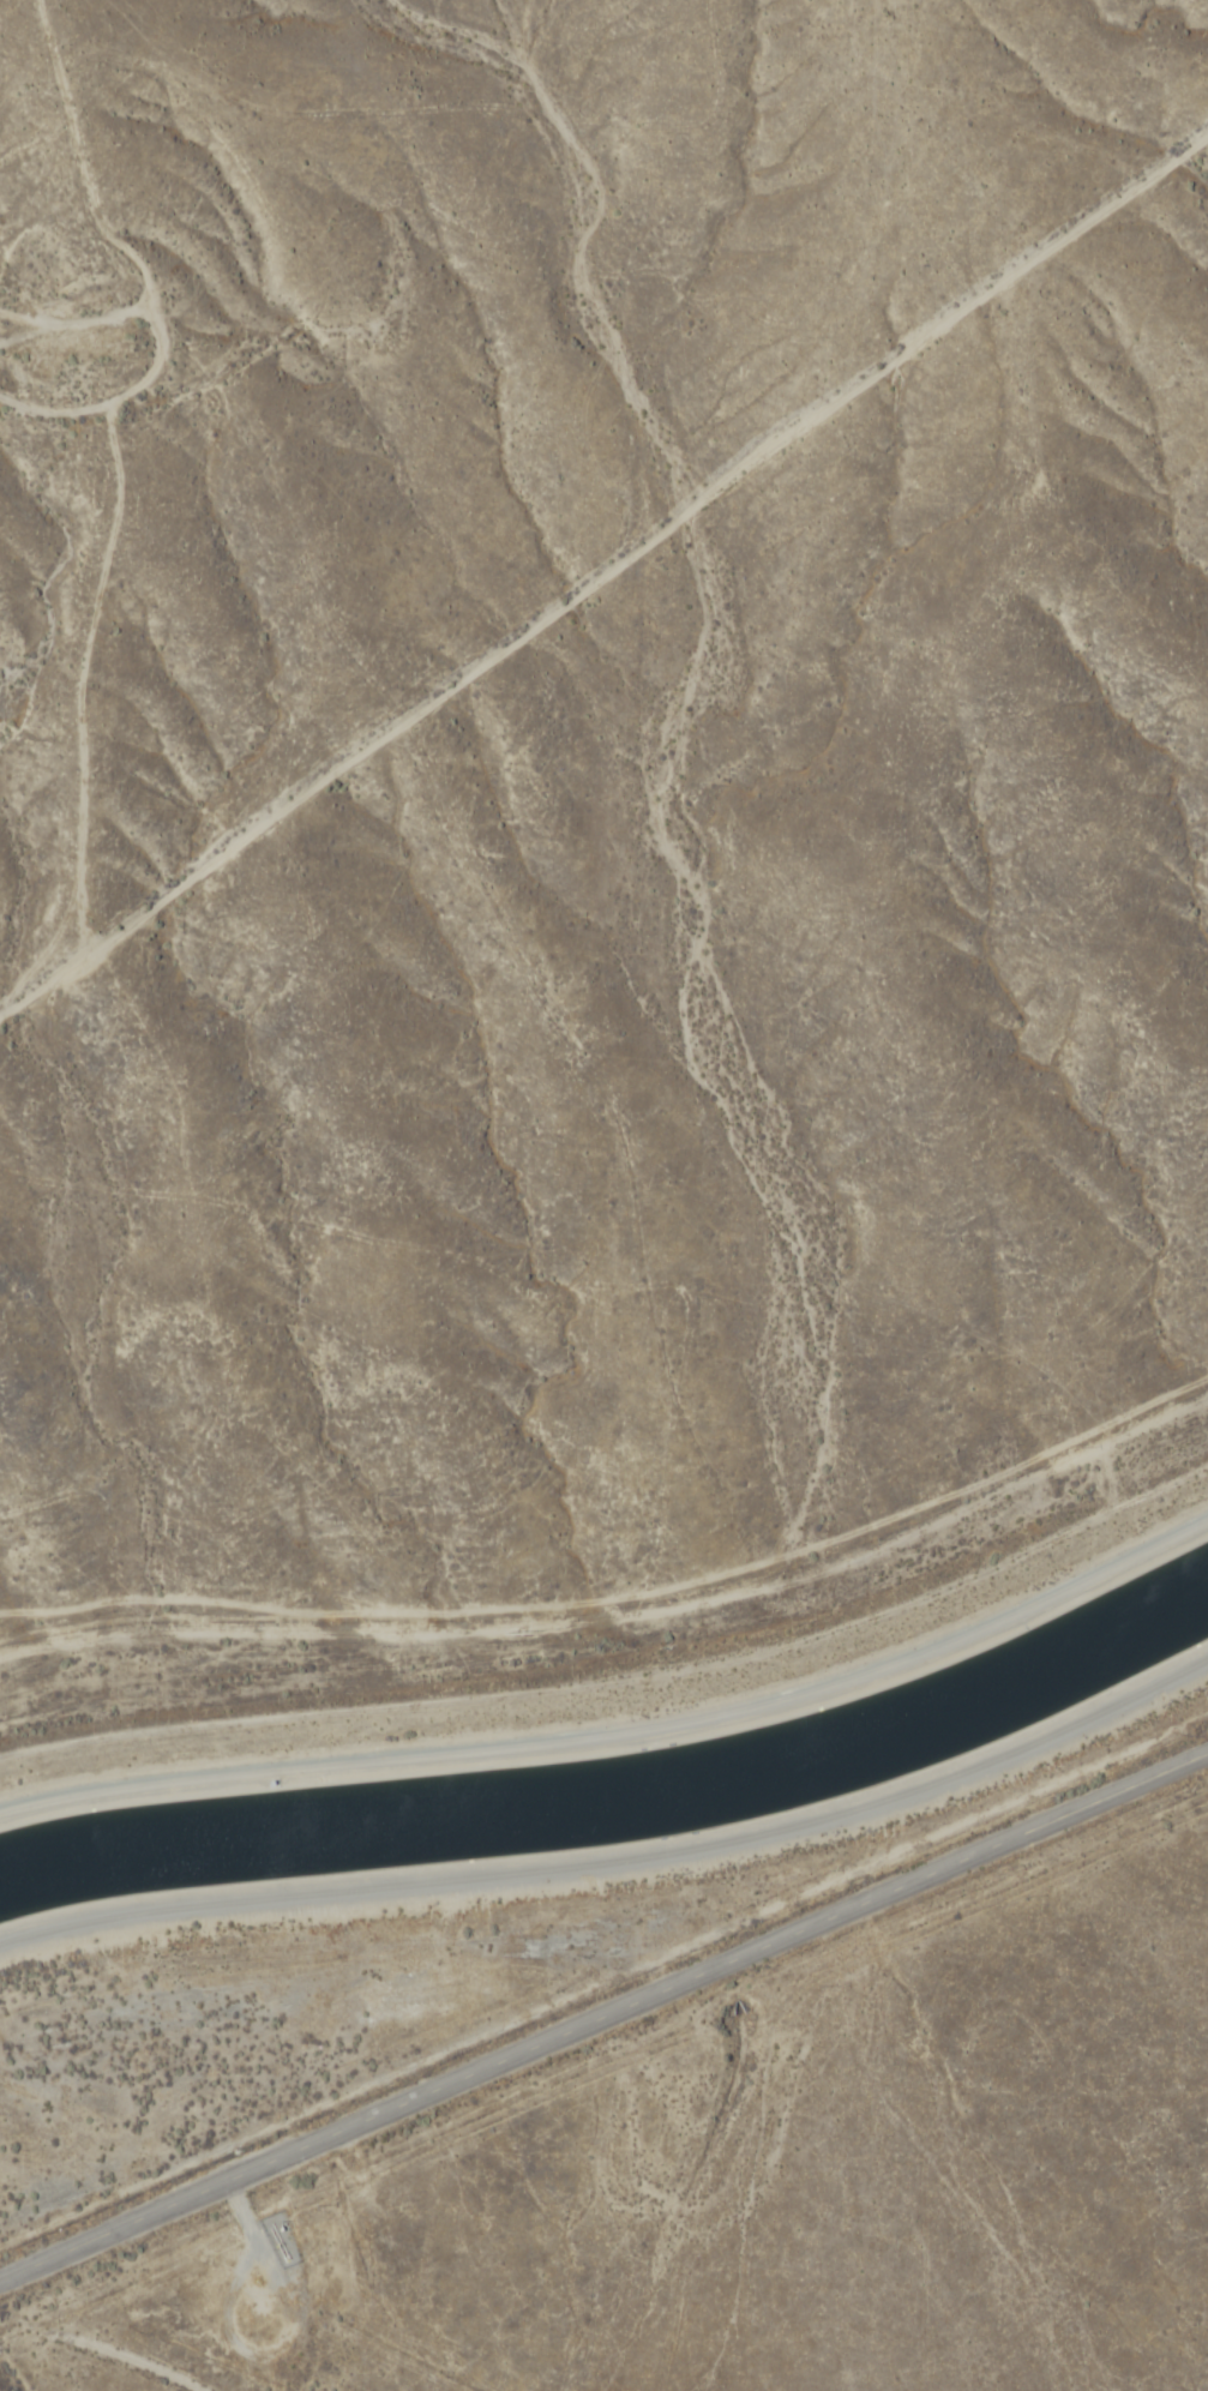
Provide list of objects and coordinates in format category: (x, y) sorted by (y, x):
road: (91, 197)
road: (603, 567)
road: (621, 1731)
road: (619, 1860)
road: (603, 2018)
road: (121, 2360)

